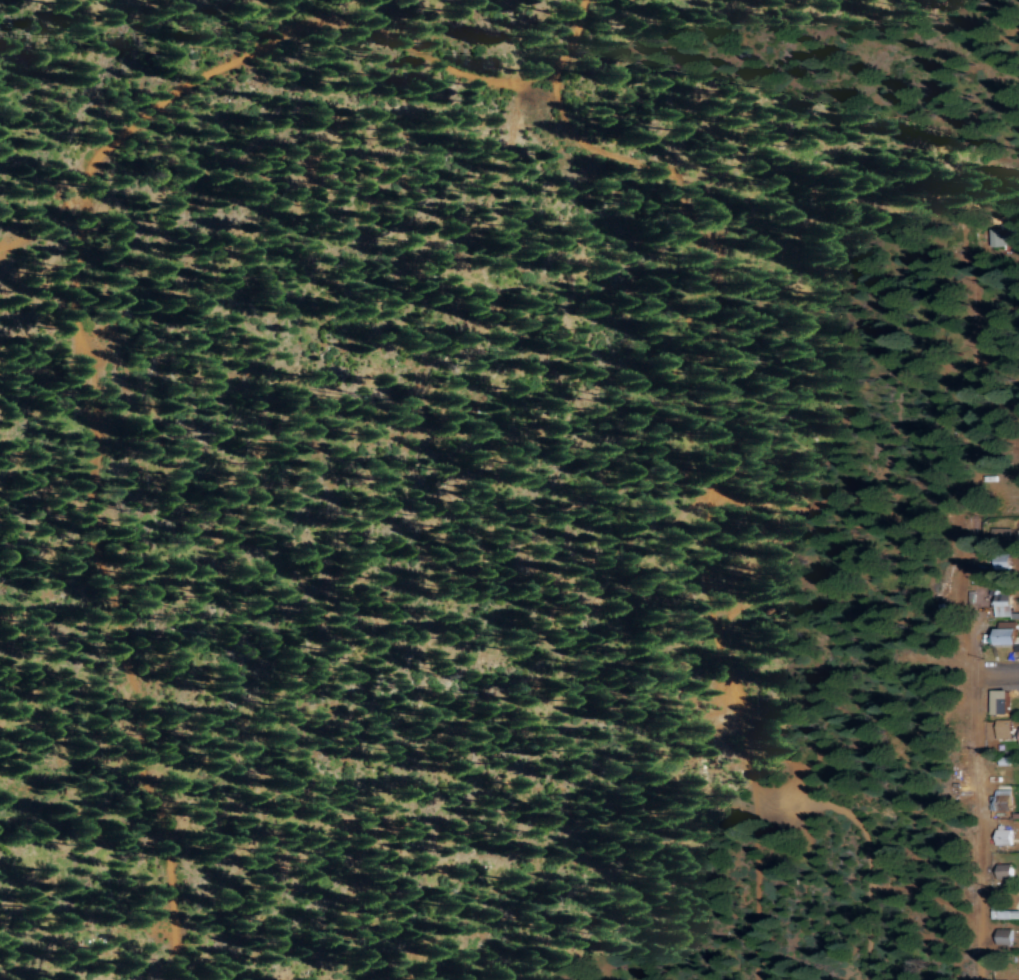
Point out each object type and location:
building: (1005, 235)
building: (1002, 600)
building: (1007, 635)
road: (1000, 671)
building: (1001, 700)
building: (1003, 727)
building: (1001, 798)
building: (1003, 838)
road: (869, 863)
building: (1007, 913)
building: (1004, 935)
road: (966, 953)

